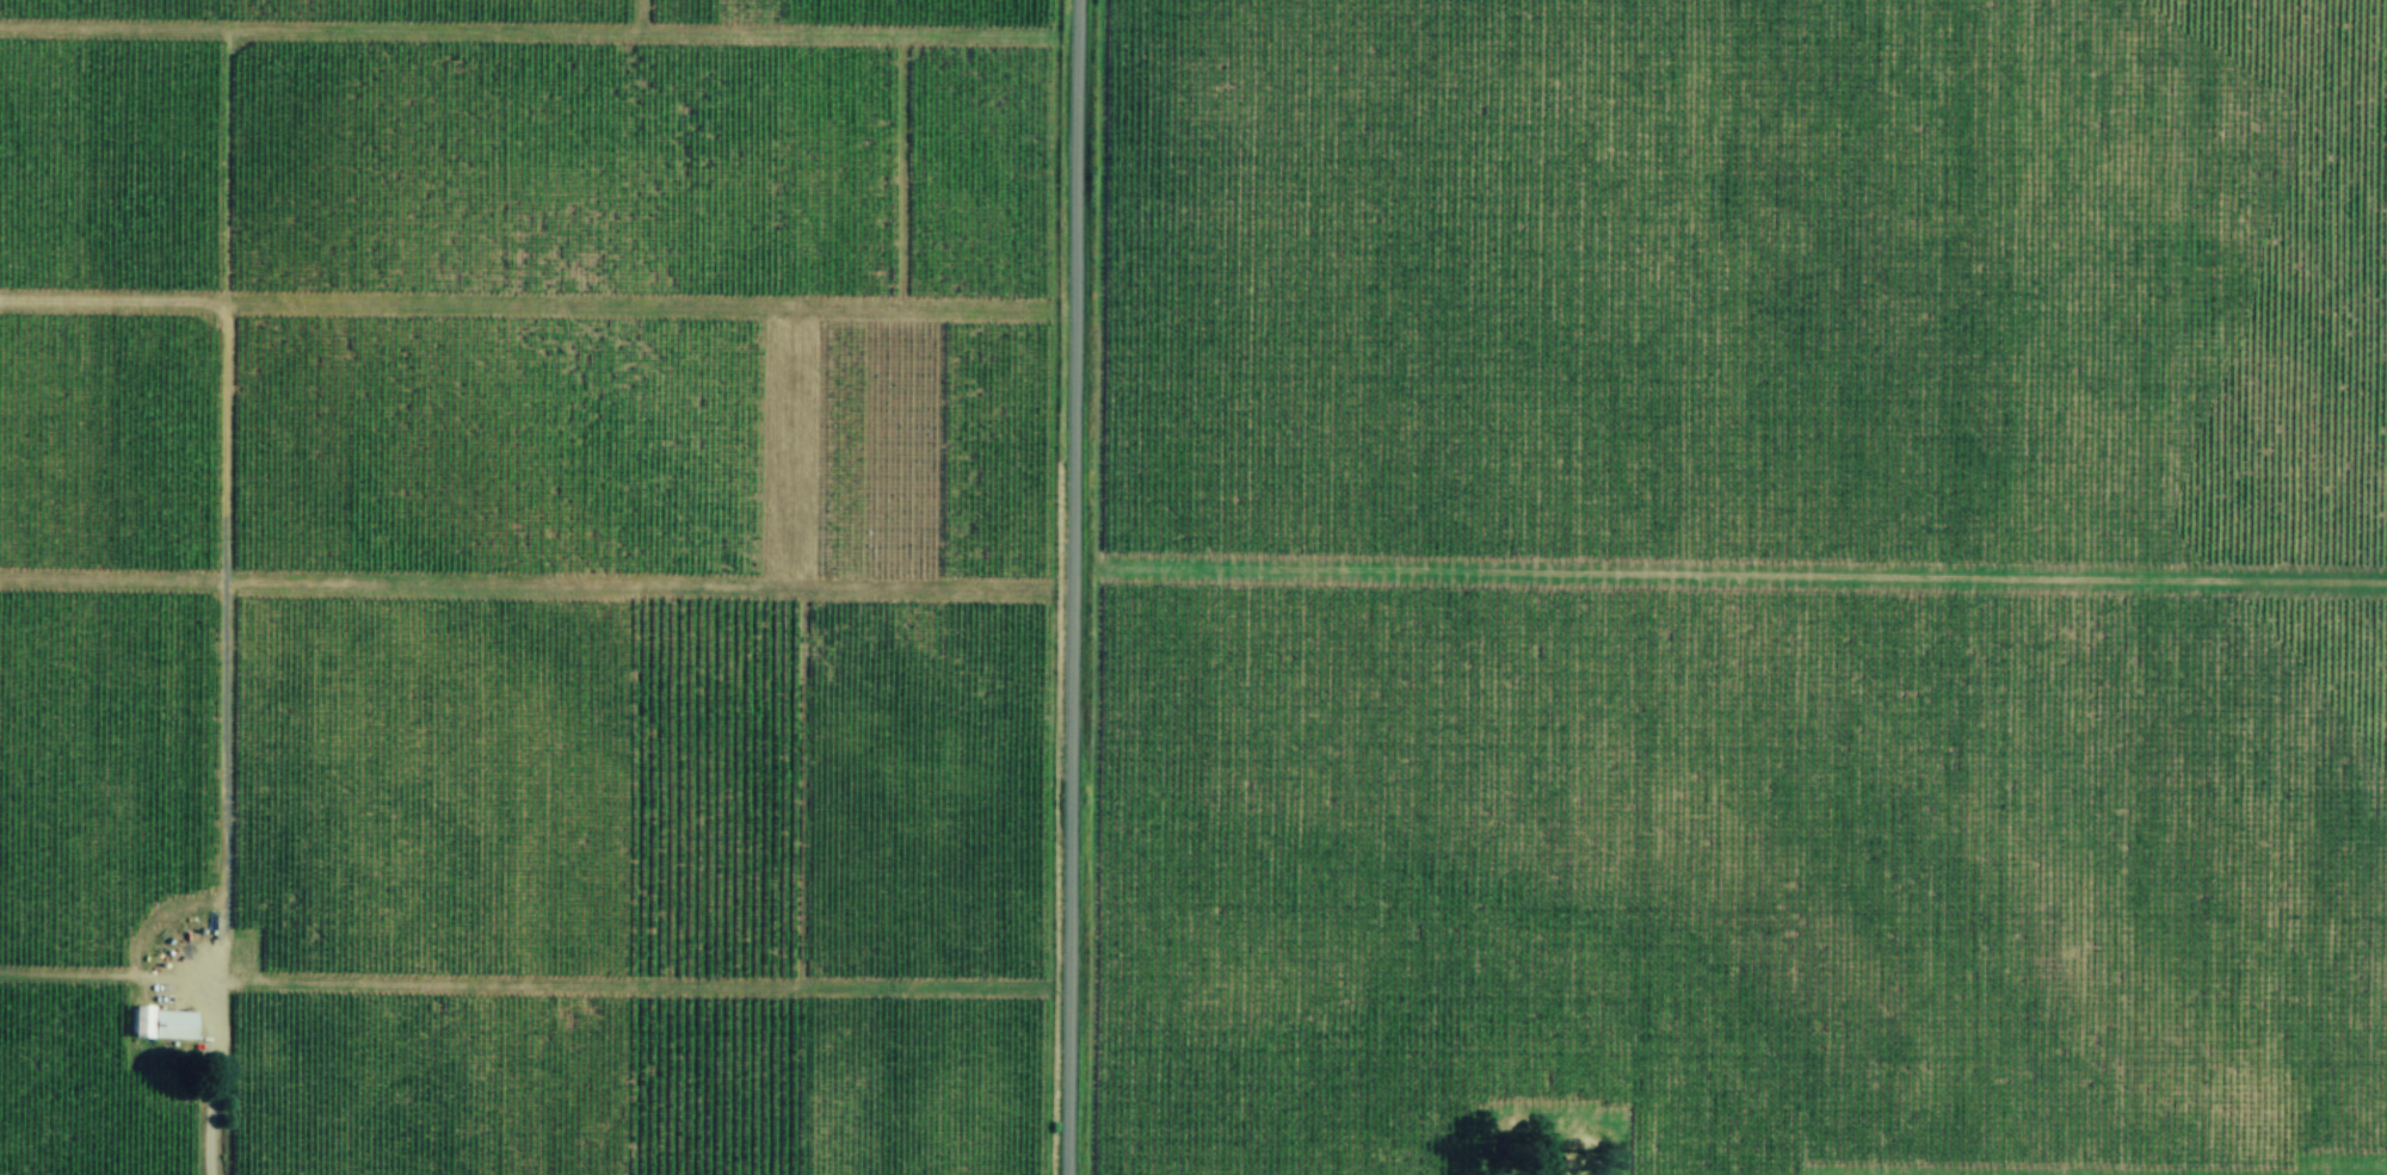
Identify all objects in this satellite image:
road: (1074, 587)

